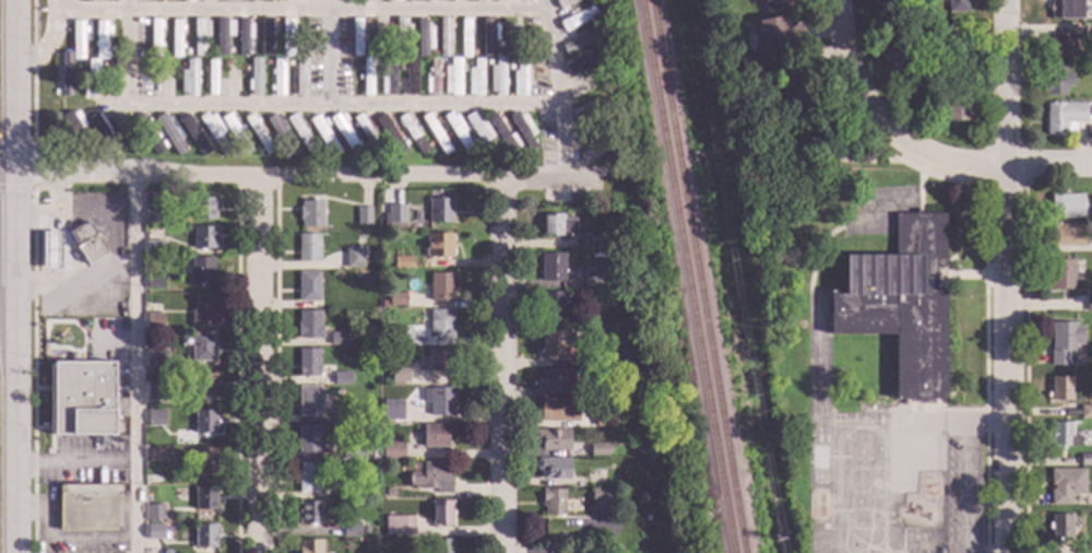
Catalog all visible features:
building: (211, 0)
building: (234, 0)
building: (254, 0)
building: (292, 0)
building: (371, 0)
building: (395, 0)
building: (416, 0)
building: (439, 0)
building: (460, 0)
building: (505, 0)
building: (95, 1)
building: (167, 1)
building: (189, 1)
building: (882, 1)
building: (714, 2)
building: (563, 3)
building: (772, 4)
building: (957, 5)
building: (1065, 9)
building: (574, 10)
road: (337, 11)
road: (95, 13)
building: (578, 19)
building: (748, 28)
building: (928, 28)
building: (778, 34)
building: (223, 35)
building: (155, 36)
building: (200, 36)
building: (244, 36)
building: (265, 36)
building: (363, 36)
building: (401, 36)
building: (444, 37)
building: (100, 38)
building: (176, 38)
building: (287, 38)
building: (356, 38)
building: (376, 38)
building: (424, 38)
building: (465, 38)
building: (488, 38)
building: (510, 38)
building: (78, 39)
road: (48, 40)
building: (580, 42)
building: (1064, 43)
building: (956, 44)
building: (499, 45)
building: (110, 49)
building: (229, 50)
building: (249, 50)
building: (361, 50)
building: (209, 51)
building: (411, 51)
building: (473, 52)
road: (129, 54)
road: (332, 54)
building: (432, 54)
building: (894, 55)
building: (225, 61)
building: (203, 62)
building: (266, 62)
building: (488, 62)
building: (289, 63)
building: (468, 63)
building: (104, 64)
building: (357, 64)
building: (447, 64)
building: (182, 66)
building: (582, 66)
building: (510, 68)
building: (246, 69)
building: (401, 69)
building: (794, 70)
building: (66, 73)
building: (254, 77)
building: (300, 77)
building: (367, 77)
building: (167, 78)
building: (211, 78)
building: (411, 78)
building: (452, 78)
building: (497, 78)
building: (520, 78)
building: (91, 79)
building: (112, 79)
building: (189, 79)
building: (233, 79)
building: (277, 79)
building: (388, 79)
building: (432, 79)
building: (475, 79)
building: (1057, 81)
road: (16, 85)
building: (587, 86)
road: (560, 87)
building: (56, 92)
building: (605, 92)
road: (864, 99)
building: (954, 103)
road: (333, 107)
building: (592, 109)
building: (1064, 117)
building: (600, 119)
building: (372, 125)
building: (76, 129)
building: (523, 129)
building: (168, 131)
building: (214, 131)
building: (123, 132)
building: (480, 132)
building: (501, 132)
building: (593, 132)
building: (103, 133)
building: (149, 133)
building: (192, 133)
building: (235, 133)
building: (257, 133)
building: (344, 133)
building: (411, 133)
building: (436, 133)
building: (458, 133)
building: (278, 134)
building: (300, 134)
building: (323, 134)
building: (367, 134)
building: (389, 134)
building: (447, 137)
building: (93, 142)
building: (140, 142)
building: (206, 142)
building: (71, 143)
building: (228, 143)
building: (404, 143)
building: (273, 144)
building: (382, 144)
building: (428, 144)
building: (472, 144)
building: (296, 145)
building: (317, 145)
building: (361, 145)
building: (186, 148)
building: (341, 148)
road: (827, 150)
building: (598, 151)
building: (617, 151)
building: (517, 154)
building: (298, 155)
building: (490, 157)
road: (974, 165)
road: (1049, 165)
road: (8, 170)
road: (612, 174)
road: (294, 176)
building: (1066, 207)
building: (203, 209)
building: (440, 211)
building: (310, 213)
building: (396, 214)
building: (154, 216)
building: (364, 216)
building: (557, 226)
building: (1089, 226)
building: (1067, 235)
building: (203, 238)
building: (597, 239)
building: (87, 244)
building: (154, 246)
building: (439, 246)
building: (308, 248)
building: (50, 251)
building: (354, 258)
building: (402, 263)
building: (551, 268)
building: (202, 271)
building: (1059, 274)
railway: (684, 275)
railway: (695, 275)
road: (1008, 275)
building: (593, 276)
building: (365, 282)
building: (154, 283)
building: (308, 286)
building: (440, 286)
building: (396, 299)
building: (1089, 302)
building: (384, 304)
building: (900, 304)
building: (554, 305)
building: (204, 310)
building: (593, 315)
building: (154, 321)
building: (309, 325)
building: (440, 326)
building: (82, 336)
building: (400, 337)
building: (339, 339)
building: (554, 343)
building: (1064, 343)
building: (202, 348)
building: (596, 357)
building: (156, 360)
building: (436, 361)
road: (16, 362)
road: (134, 363)
building: (308, 363)
road: (262, 364)
road: (505, 365)
building: (399, 373)
building: (342, 378)
building: (554, 380)
building: (204, 386)
building: (1061, 389)
building: (154, 395)
building: (651, 395)
building: (83, 399)
building: (308, 401)
building: (438, 401)
building: (656, 402)
building: (393, 410)
building: (559, 411)
building: (1085, 412)
building: (366, 414)
building: (342, 415)
building: (156, 417)
building: (605, 420)
building: (205, 422)
building: (436, 435)
building: (1063, 435)
building: (553, 439)
building: (310, 440)
building: (598, 449)
building: (392, 450)
building: (612, 450)
building: (351, 452)
building: (156, 455)
building: (1085, 459)
building: (204, 460)
road: (964, 468)
building: (553, 469)
building: (308, 478)
building: (432, 478)
building: (1065, 485)
building: (352, 490)
building: (368, 490)
building: (388, 492)
building: (204, 498)
building: (602, 498)
building: (667, 499)
building: (554, 502)
building: (90, 508)
building: (154, 513)
building: (309, 513)
building: (441, 513)
building: (1076, 518)
building: (399, 526)
building: (1059, 526)
building: (351, 530)
building: (364, 530)
building: (155, 532)
building: (204, 537)
building: (442, 545)
building: (310, 546)

